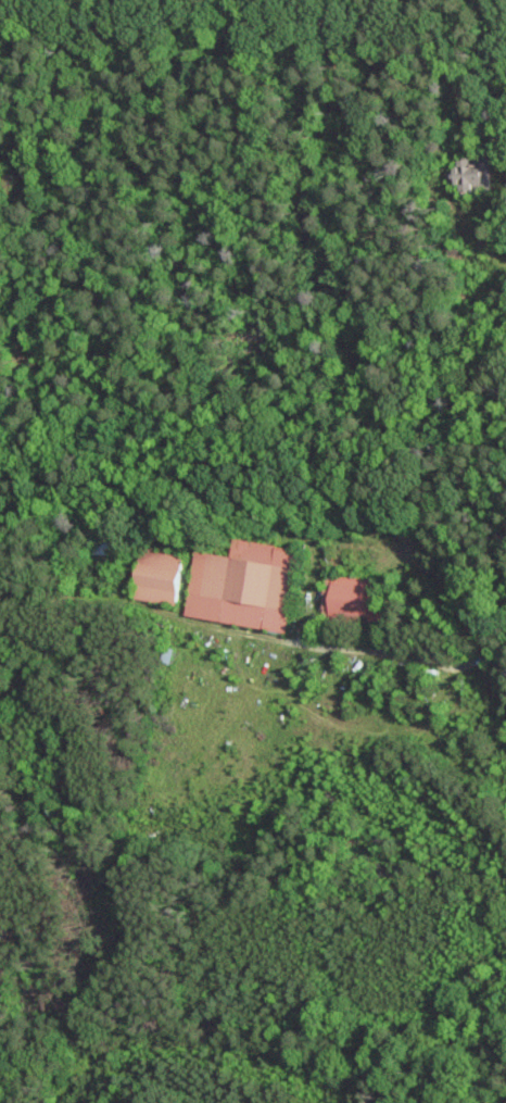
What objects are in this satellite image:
building: (475, 173)
building: (157, 575)
building: (242, 585)
building: (351, 600)
road: (418, 661)

